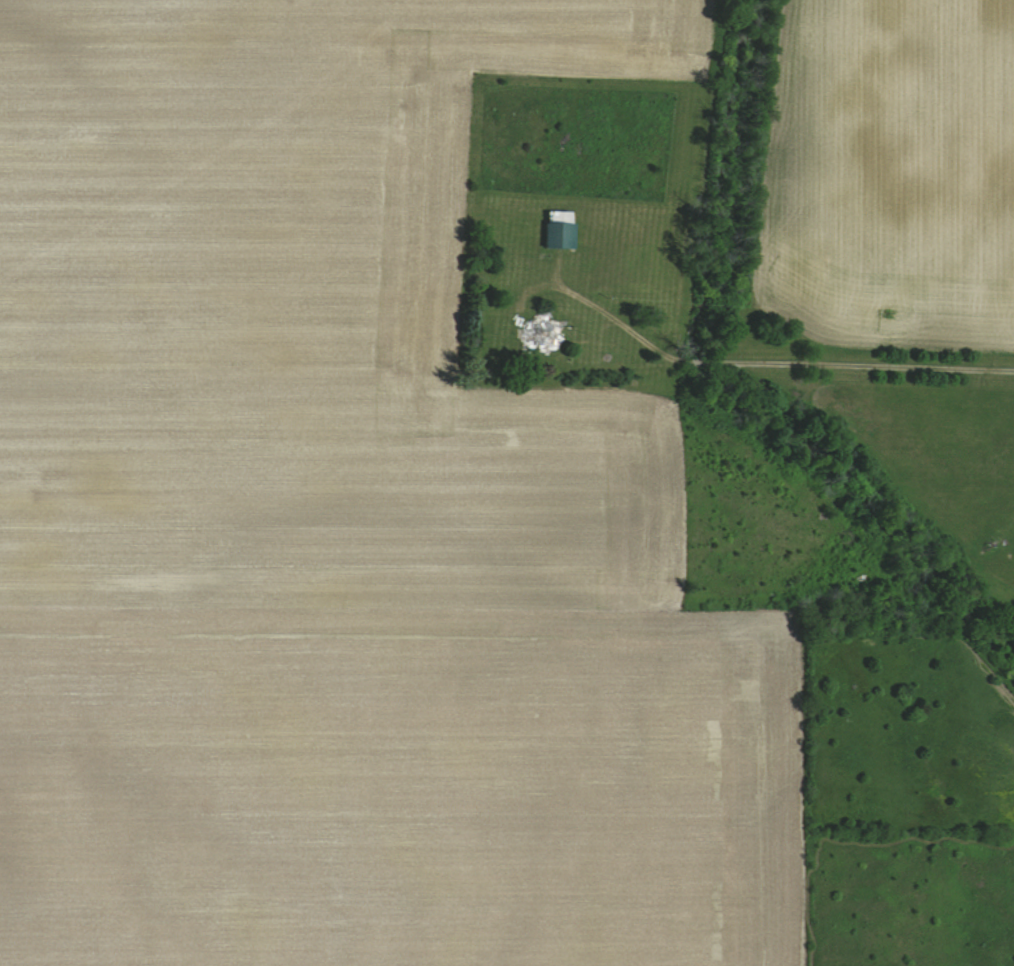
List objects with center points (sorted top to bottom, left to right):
building: (559, 231)
building: (539, 337)
road: (761, 365)

